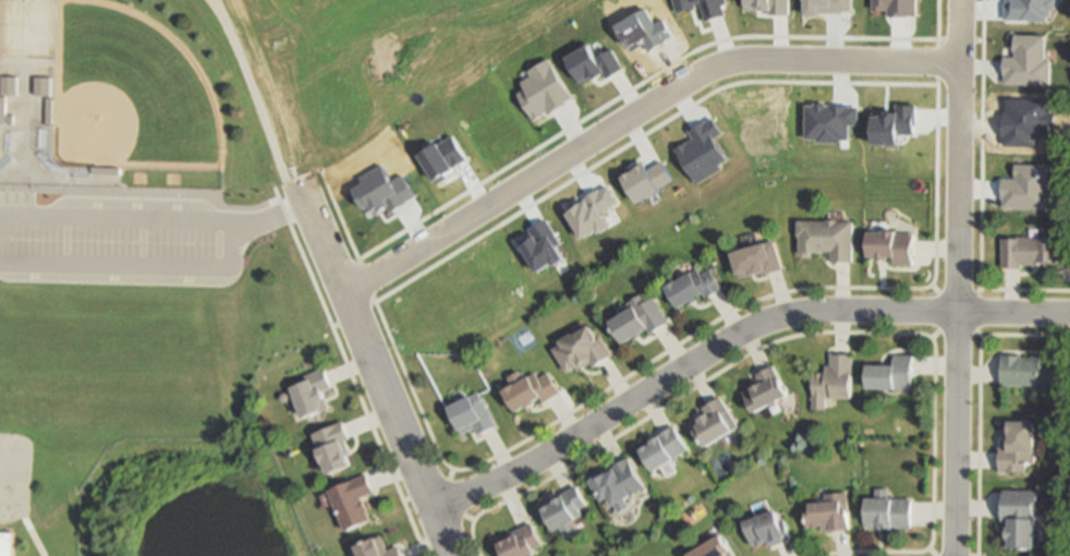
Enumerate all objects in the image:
building: (773, 7)
building: (830, 7)
building: (897, 7)
building: (1029, 9)
building: (714, 11)
building: (423, 12)
park: (0, 20)
road: (223, 20)
road: (271, 21)
building: (643, 31)
building: (1029, 62)
building: (594, 63)
road: (647, 77)
building: (9, 85)
building: (42, 85)
building: (543, 89)
park: (126, 94)
building: (4, 109)
building: (51, 110)
road: (634, 116)
building: (11, 120)
building: (830, 121)
building: (1025, 121)
building: (893, 124)
road: (618, 149)
building: (704, 149)
building: (445, 157)
building: (107, 170)
building: (648, 180)
road: (980, 188)
building: (1026, 188)
building: (382, 189)
building: (594, 211)
road: (275, 216)
road: (121, 222)
building: (828, 238)
parking lot: (107, 244)
building: (543, 245)
building: (893, 246)
building: (1029, 252)
building: (759, 258)
road: (138, 270)
road: (957, 278)
building: (696, 287)
road: (934, 288)
road: (977, 289)
road: (956, 292)
road: (345, 298)
road: (937, 311)
road: (974, 312)
building: (640, 317)
road: (955, 330)
road: (816, 333)
road: (933, 334)
road: (977, 335)
road: (731, 336)
building: (582, 349)
road: (660, 353)
building: (1033, 370)
building: (892, 373)
road: (350, 377)
building: (834, 379)
building: (530, 389)
building: (764, 389)
building: (315, 391)
road: (975, 401)
building: (471, 413)
building: (715, 421)
building: (338, 447)
building: (661, 447)
building: (1018, 447)
road: (447, 474)
road: (443, 480)
building: (616, 483)
road: (404, 499)
building: (355, 500)
building: (562, 509)
building: (829, 512)
building: (888, 512)
building: (1019, 517)
road: (466, 518)
building: (767, 529)
road: (31, 536)
building: (522, 541)
building: (7, 544)
building: (381, 548)
building: (714, 548)
road: (928, 553)

